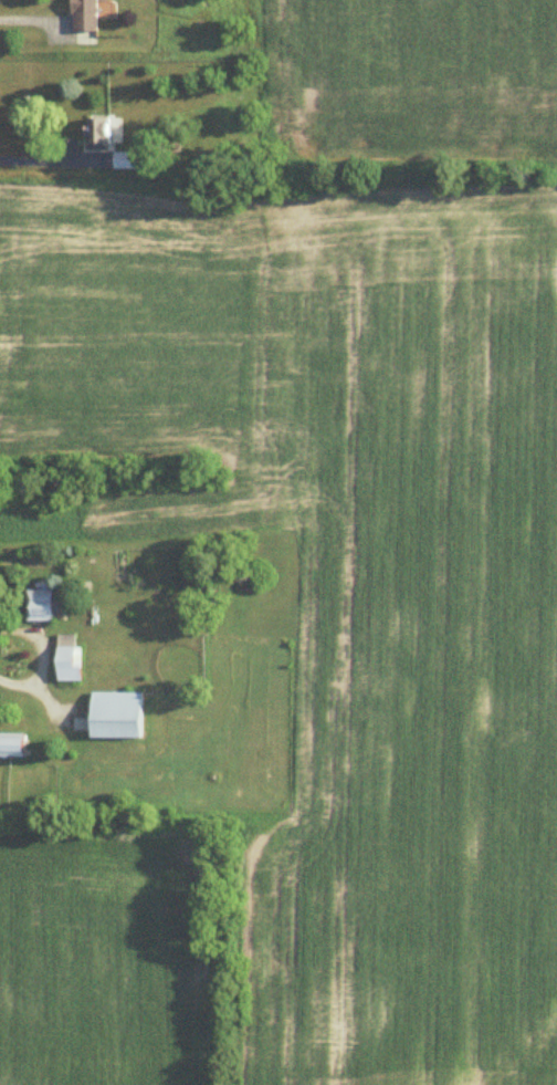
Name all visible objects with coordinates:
building: (86, 15)
road: (33, 20)
building: (98, 132)
road: (38, 160)
building: (133, 161)
building: (49, 605)
road: (41, 658)
building: (70, 660)
building: (117, 716)
building: (13, 747)

